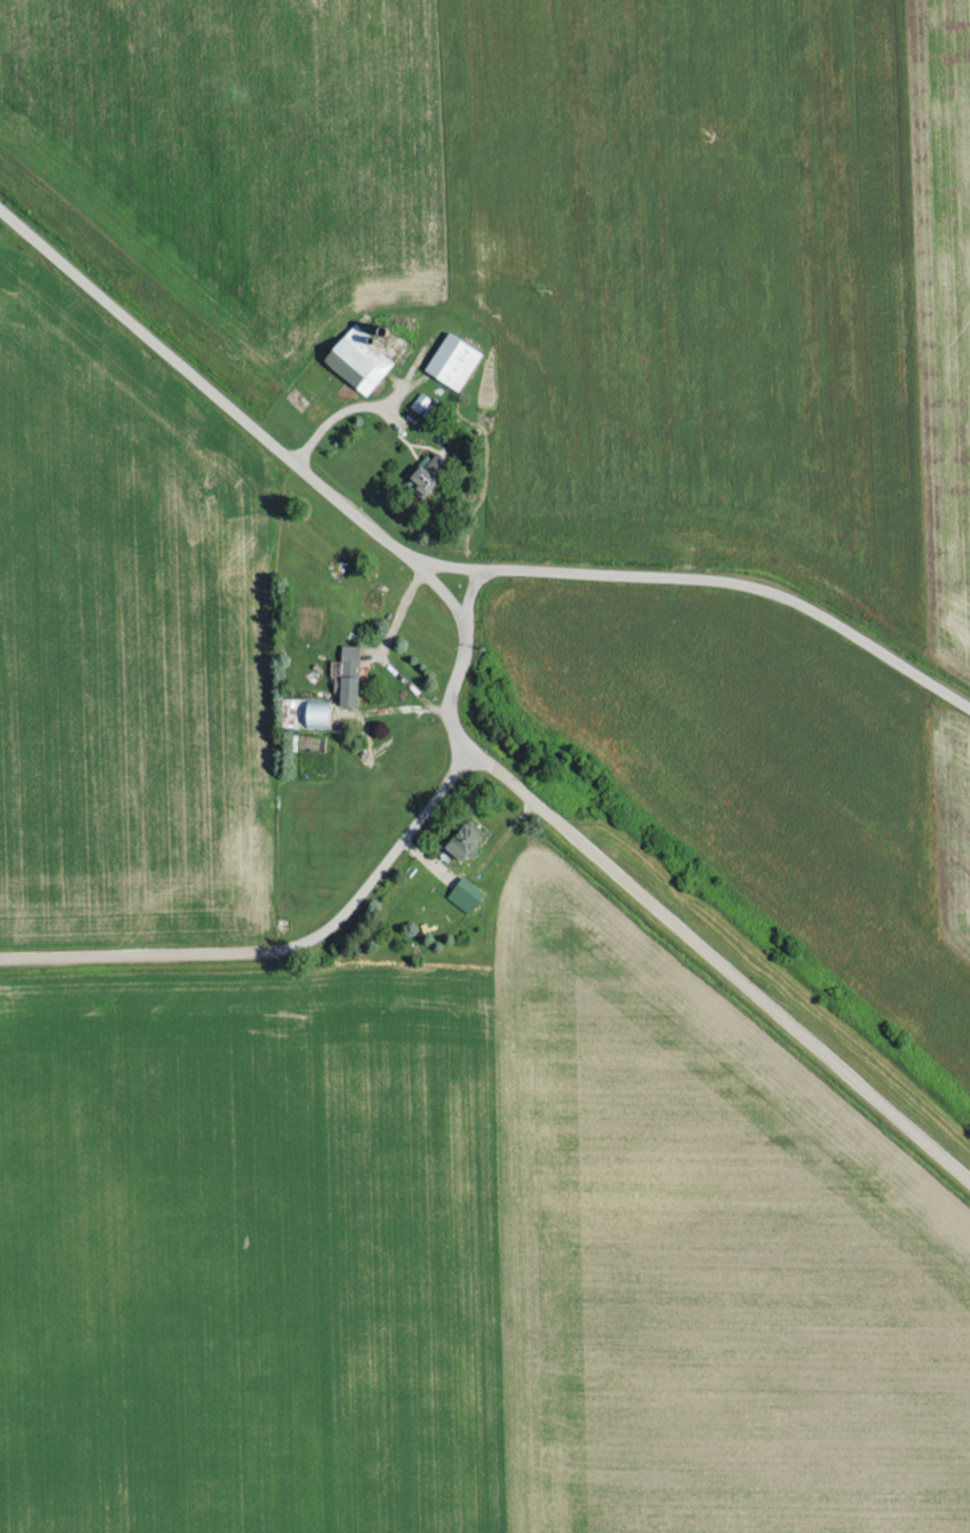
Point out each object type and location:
crop: (583, 237)
building: (353, 360)
building: (447, 362)
road: (403, 390)
building: (415, 403)
road: (342, 411)
road: (298, 465)
building: (421, 475)
road: (707, 577)
road: (471, 593)
crop: (122, 638)
road: (377, 655)
building: (341, 676)
railway: (485, 695)
crop: (788, 786)
building: (459, 842)
road: (383, 863)
building: (460, 896)
road: (137, 951)
road: (733, 968)
crop: (251, 1260)
crop: (704, 1264)

